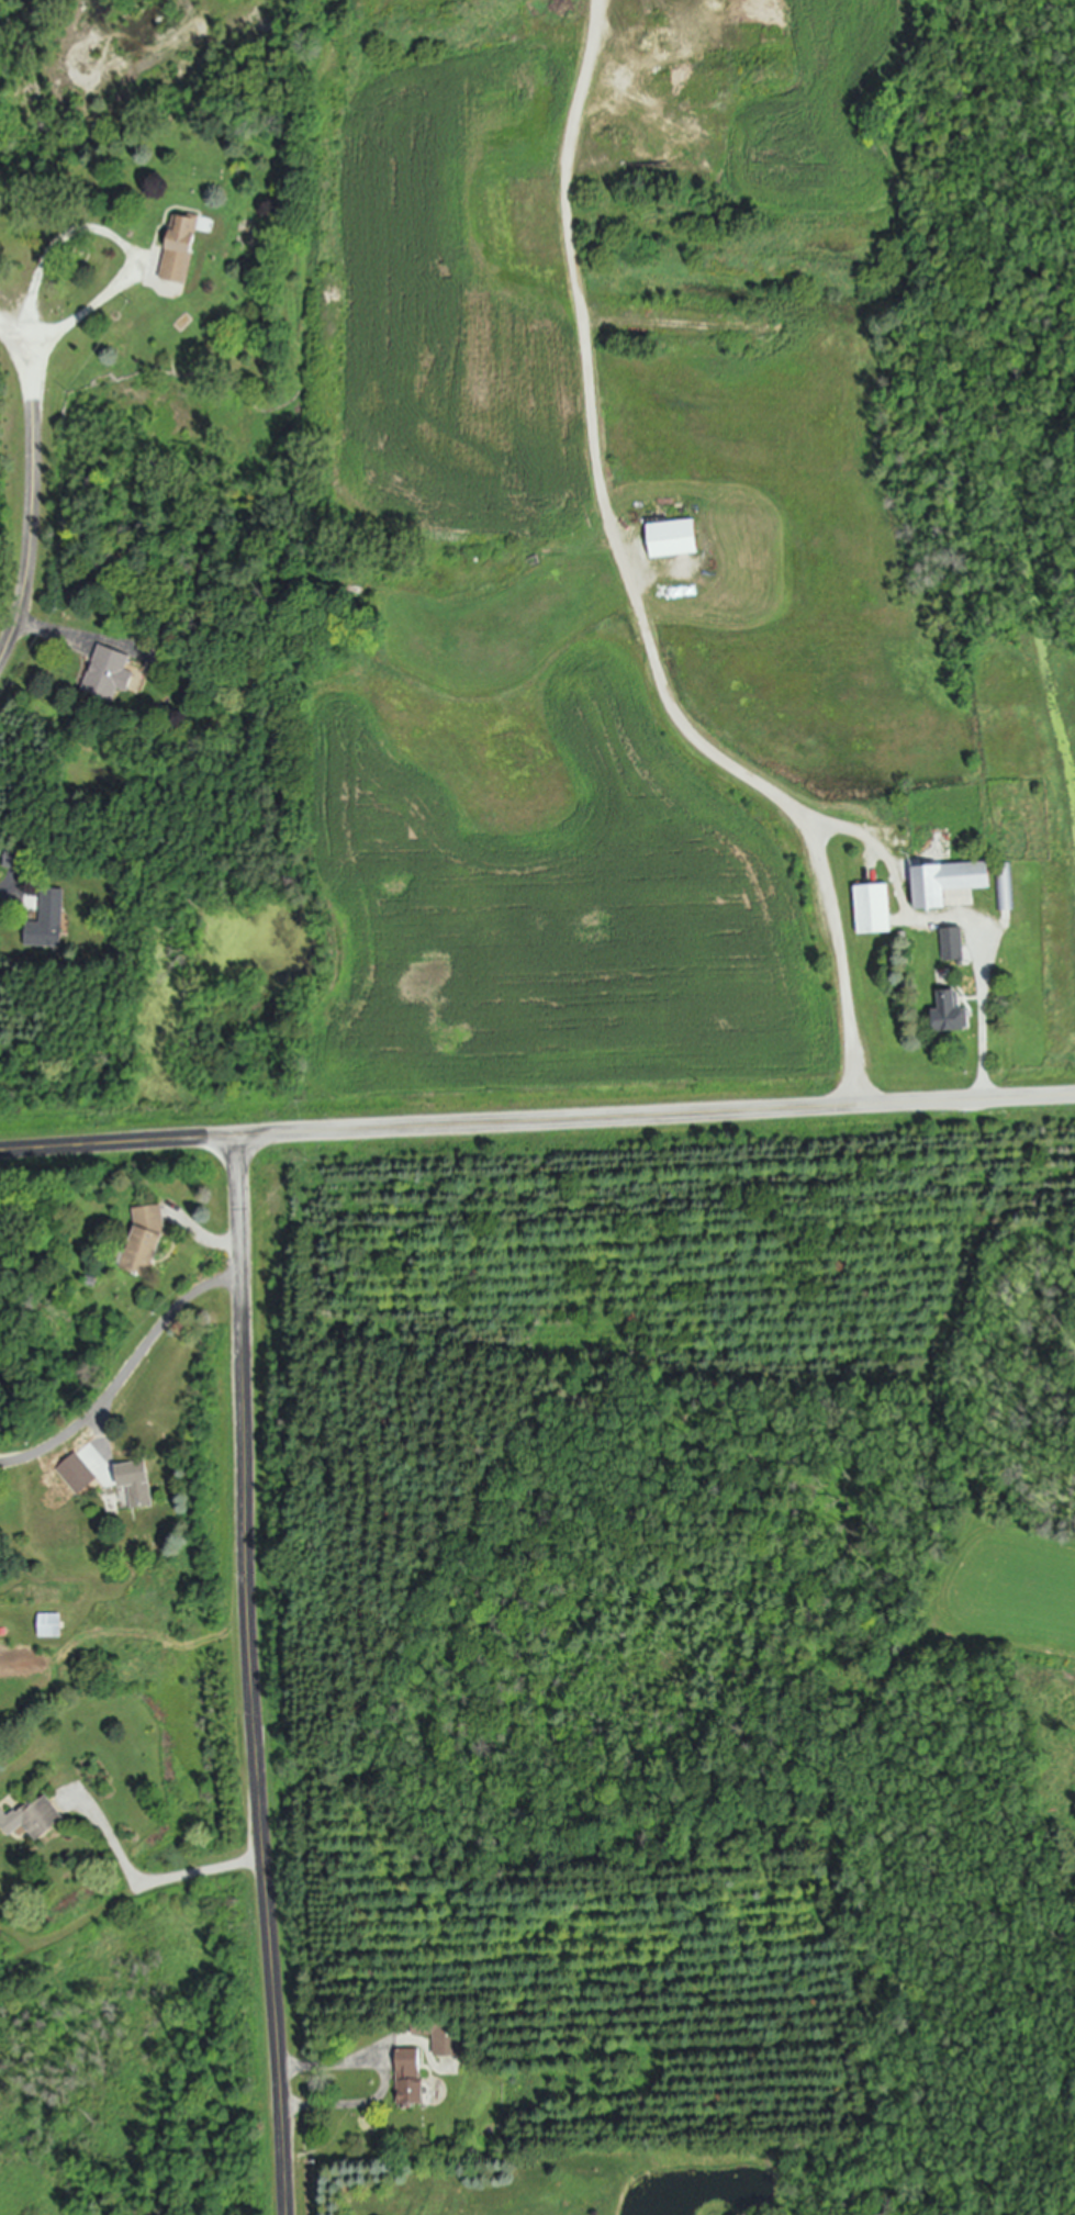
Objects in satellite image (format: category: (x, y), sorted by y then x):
quarry: (608, 130)
building: (176, 249)
road: (67, 322)
road: (32, 505)
building: (672, 538)
road: (629, 583)
road: (48, 631)
building: (109, 674)
building: (947, 883)
road: (4, 895)
building: (873, 909)
building: (47, 921)
building: (952, 944)
building: (949, 1014)
road: (983, 1015)
road: (656, 1111)
road: (119, 1139)
building: (144, 1239)
road: (210, 1239)
road: (125, 1376)
road: (102, 1437)
building: (77, 1474)
building: (136, 1484)
road: (253, 1674)
building: (33, 1819)
road: (114, 1841)
road: (200, 1871)
building: (446, 2040)
building: (408, 2077)
road: (369, 2079)

